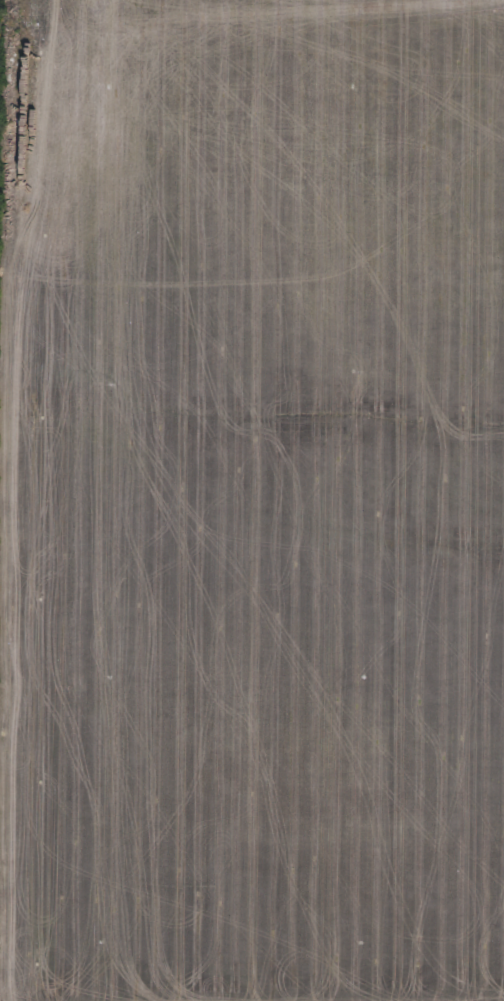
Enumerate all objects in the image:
crop: (252, 500)

